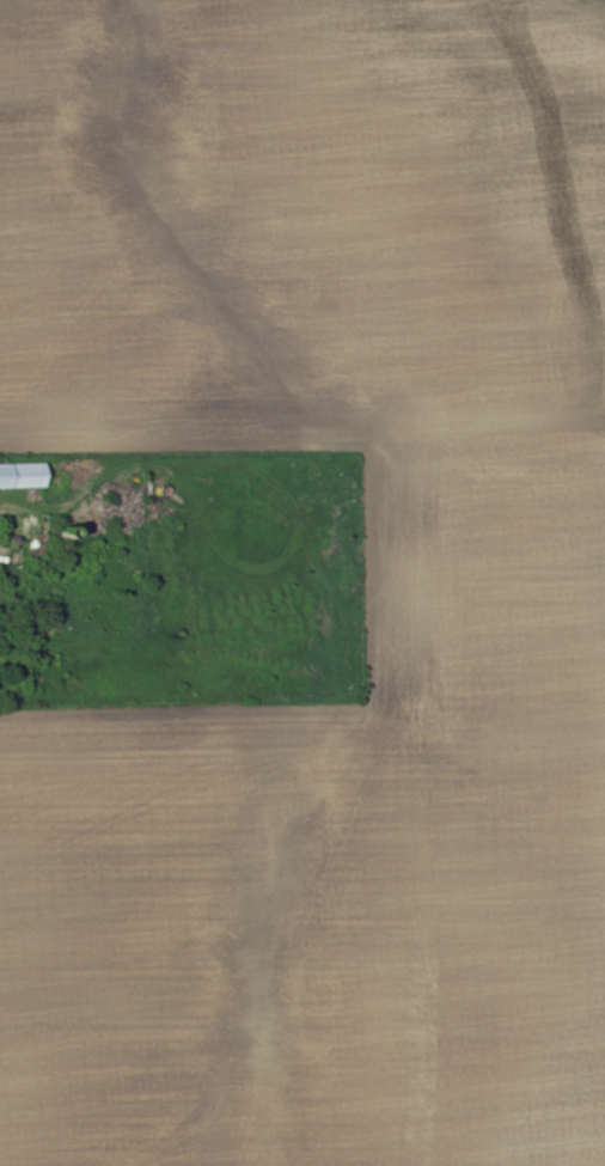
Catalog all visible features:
building: (22, 477)

